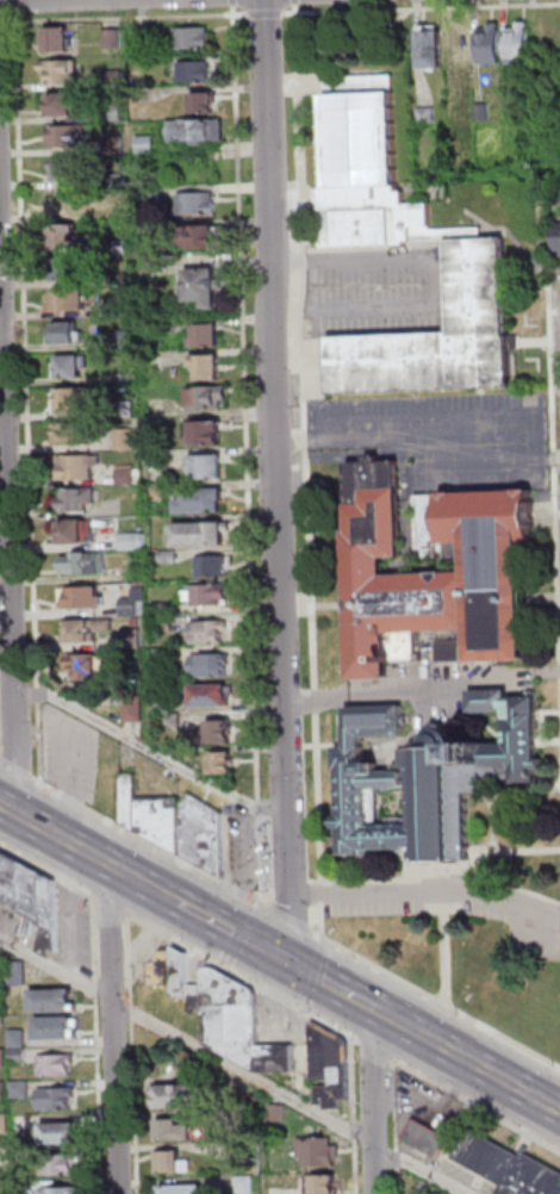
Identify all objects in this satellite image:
road: (8, 0)
road: (234, 2)
road: (15, 7)
road: (256, 14)
road: (127, 18)
road: (4, 21)
building: (193, 37)
building: (58, 38)
building: (112, 38)
building: (519, 43)
building: (491, 44)
building: (461, 45)
building: (434, 46)
building: (63, 70)
building: (195, 71)
building: (113, 80)
building: (204, 101)
building: (63, 104)
building: (113, 111)
building: (483, 112)
building: (456, 114)
building: (428, 116)
building: (197, 130)
building: (70, 136)
building: (147, 144)
building: (117, 145)
building: (70, 169)
building: (119, 180)
building: (559, 191)
building: (151, 194)
building: (67, 201)
building: (198, 203)
building: (120, 211)
building: (403, 232)
building: (67, 235)
building: (198, 236)
building: (558, 237)
building: (120, 245)
building: (154, 262)
building: (71, 268)
building: (122, 279)
road: (437, 285)
building: (205, 286)
building: (71, 299)
building: (154, 327)
building: (66, 332)
building: (207, 336)
building: (123, 338)
building: (73, 366)
building: (210, 366)
building: (124, 379)
building: (209, 397)
road: (29, 398)
building: (80, 400)
parking lot: (410, 404)
building: (74, 434)
building: (210, 434)
building: (125, 440)
road: (416, 440)
road: (554, 450)
road: (249, 458)
building: (158, 459)
building: (79, 466)
building: (211, 466)
building: (127, 477)
road: (273, 481)
building: (160, 491)
building: (81, 498)
building: (204, 500)
building: (75, 531)
building: (203, 535)
building: (133, 542)
road: (6, 554)
building: (170, 558)
building: (83, 564)
building: (499, 565)
building: (213, 567)
building: (211, 595)
building: (85, 597)
building: (135, 603)
building: (168, 609)
building: (137, 622)
building: (166, 623)
building: (82, 630)
building: (210, 633)
building: (133, 639)
building: (452, 651)
building: (166, 657)
road: (5, 659)
building: (81, 664)
building: (212, 666)
road: (419, 685)
building: (212, 696)
building: (135, 705)
building: (166, 705)
building: (174, 722)
building: (223, 733)
road: (148, 748)
parking lot: (70, 754)
building: (223, 764)
road: (15, 770)
building: (430, 778)
building: (155, 816)
building: (205, 835)
road: (68, 844)
road: (151, 844)
road: (49, 871)
building: (0, 884)
road: (155, 891)
road: (424, 894)
building: (32, 898)
road: (112, 907)
parking lot: (434, 912)
road: (295, 922)
road: (231, 933)
road: (239, 938)
road: (446, 950)
traffic signals: (290, 964)
building: (163, 969)
building: (20, 974)
building: (182, 975)
road: (312, 975)
road: (243, 977)
road: (332, 988)
building: (1, 989)
building: (198, 999)
building: (54, 1002)
road: (440, 1003)
building: (2, 1021)
road: (398, 1024)
building: (241, 1025)
building: (58, 1028)
road: (108, 1028)
building: (18, 1039)
road: (95, 1044)
road: (373, 1049)
building: (19, 1056)
building: (2, 1058)
building: (56, 1065)
road: (237, 1068)
building: (332, 1069)
road: (489, 1074)
road: (351, 1077)
building: (21, 1089)
building: (4, 1092)
building: (180, 1097)
building: (58, 1099)
road: (374, 1102)
road: (393, 1105)
road: (474, 1105)
building: (280, 1113)
building: (244, 1120)
building: (5, 1124)
building: (21, 1126)
road: (351, 1128)
building: (174, 1131)
building: (61, 1134)
building: (427, 1138)
building: (239, 1152)
building: (318, 1152)
building: (24, 1155)
building: (4, 1157)
road: (397, 1158)
building: (175, 1163)
building: (60, 1165)
building: (508, 1165)
road: (353, 1167)
road: (396, 1181)
building: (244, 1184)
building: (323, 1184)
building: (5, 1187)
building: (23, 1187)
building: (185, 1189)
building: (66, 1190)
building: (433, 1193)

